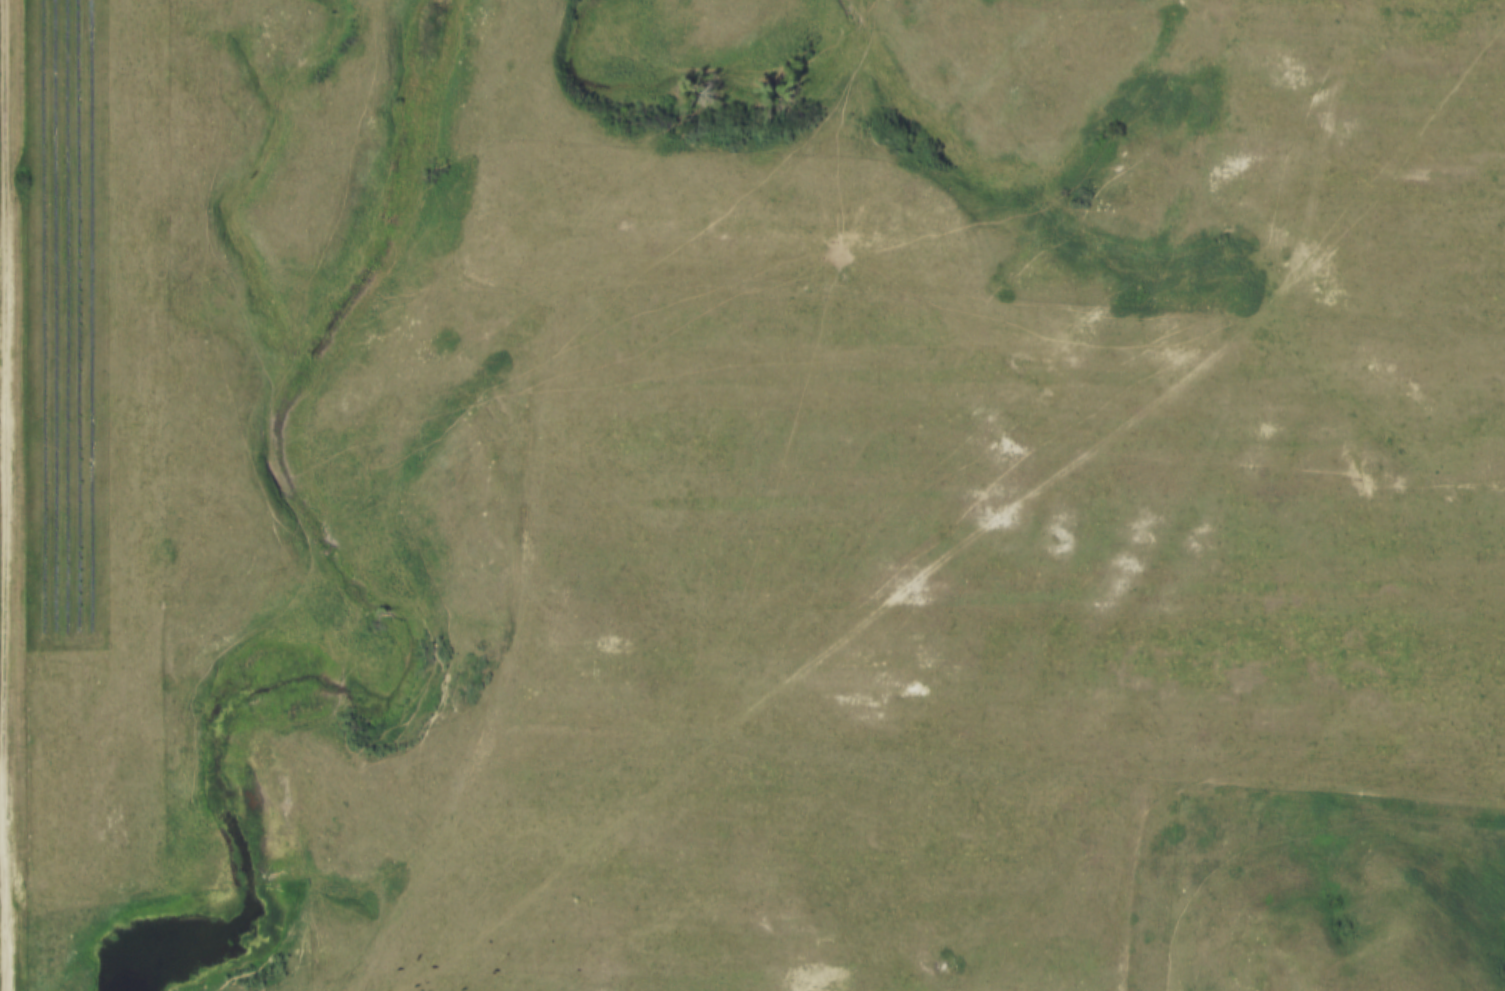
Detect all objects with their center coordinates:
road: (6, 495)
road: (0, 889)
road: (402, 895)

